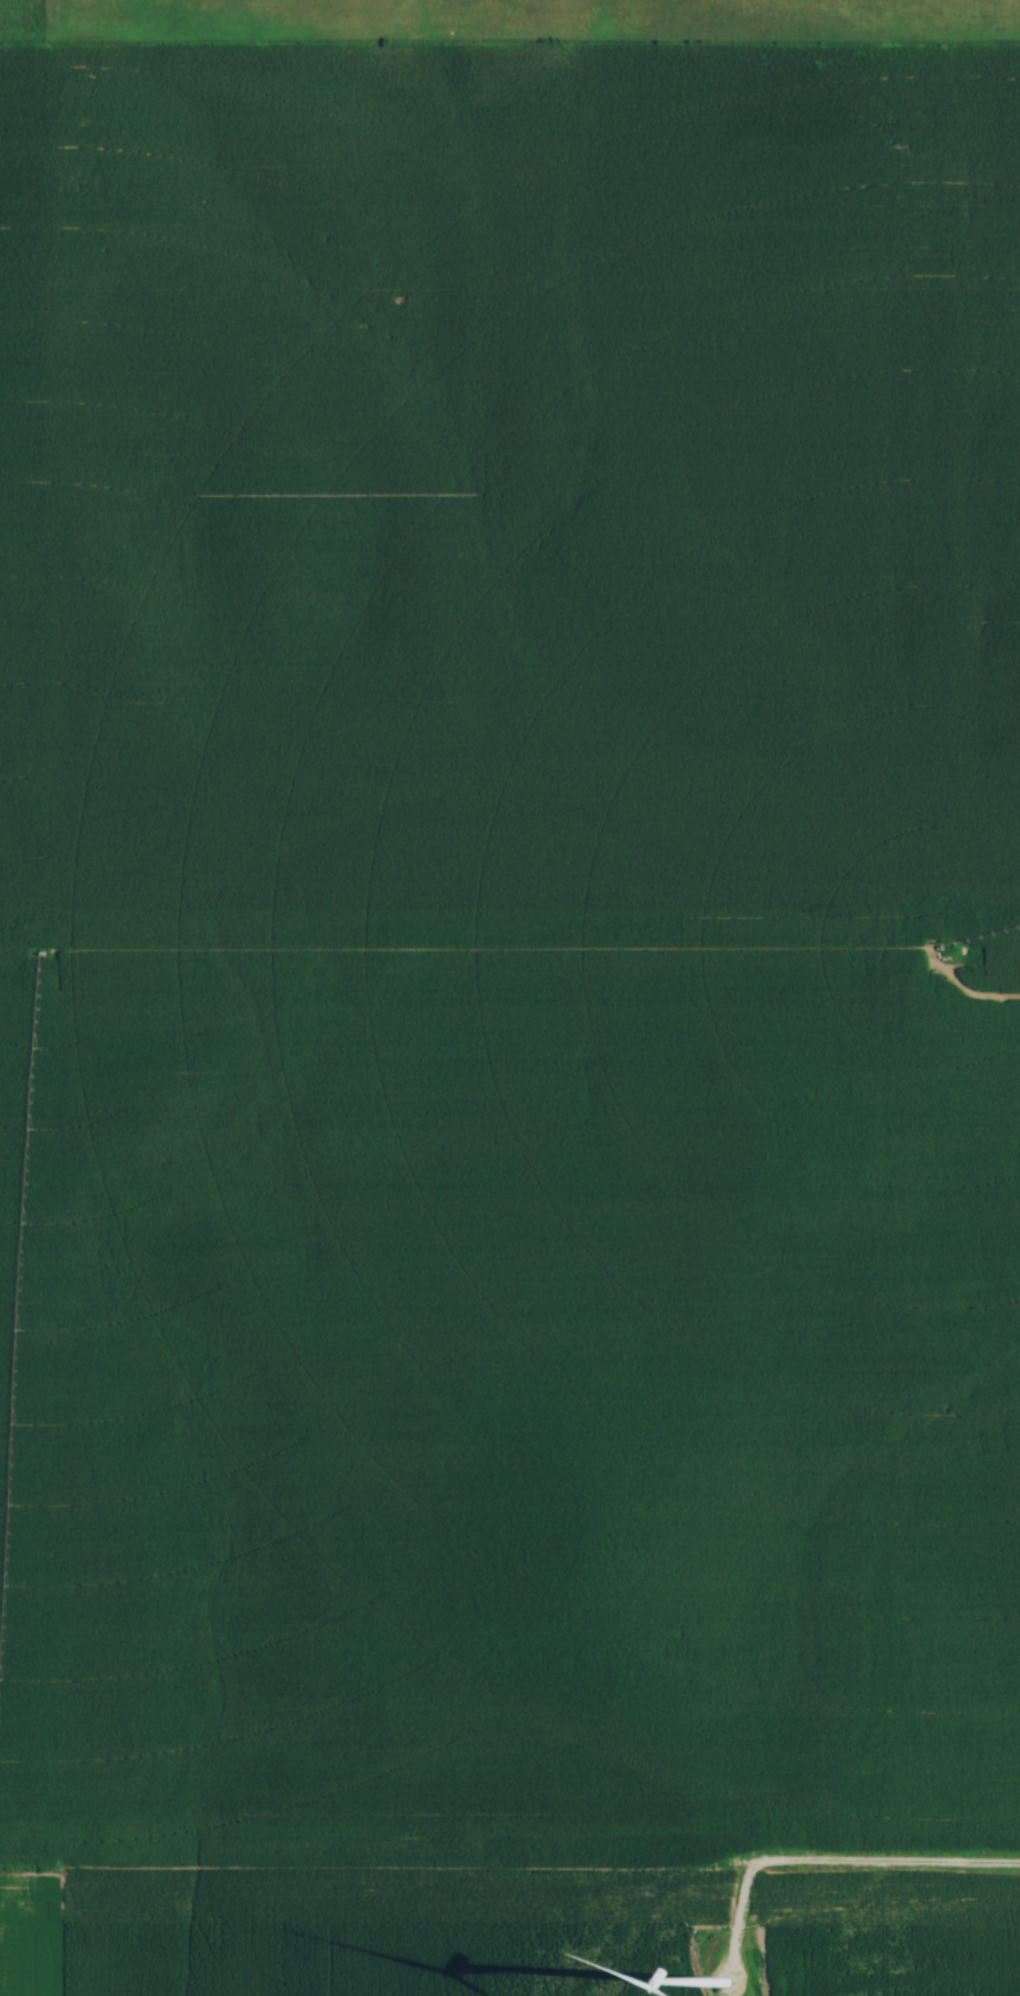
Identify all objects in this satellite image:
building: (45, 1506)
road: (834, 1859)
wind turbine: (727, 1980)

